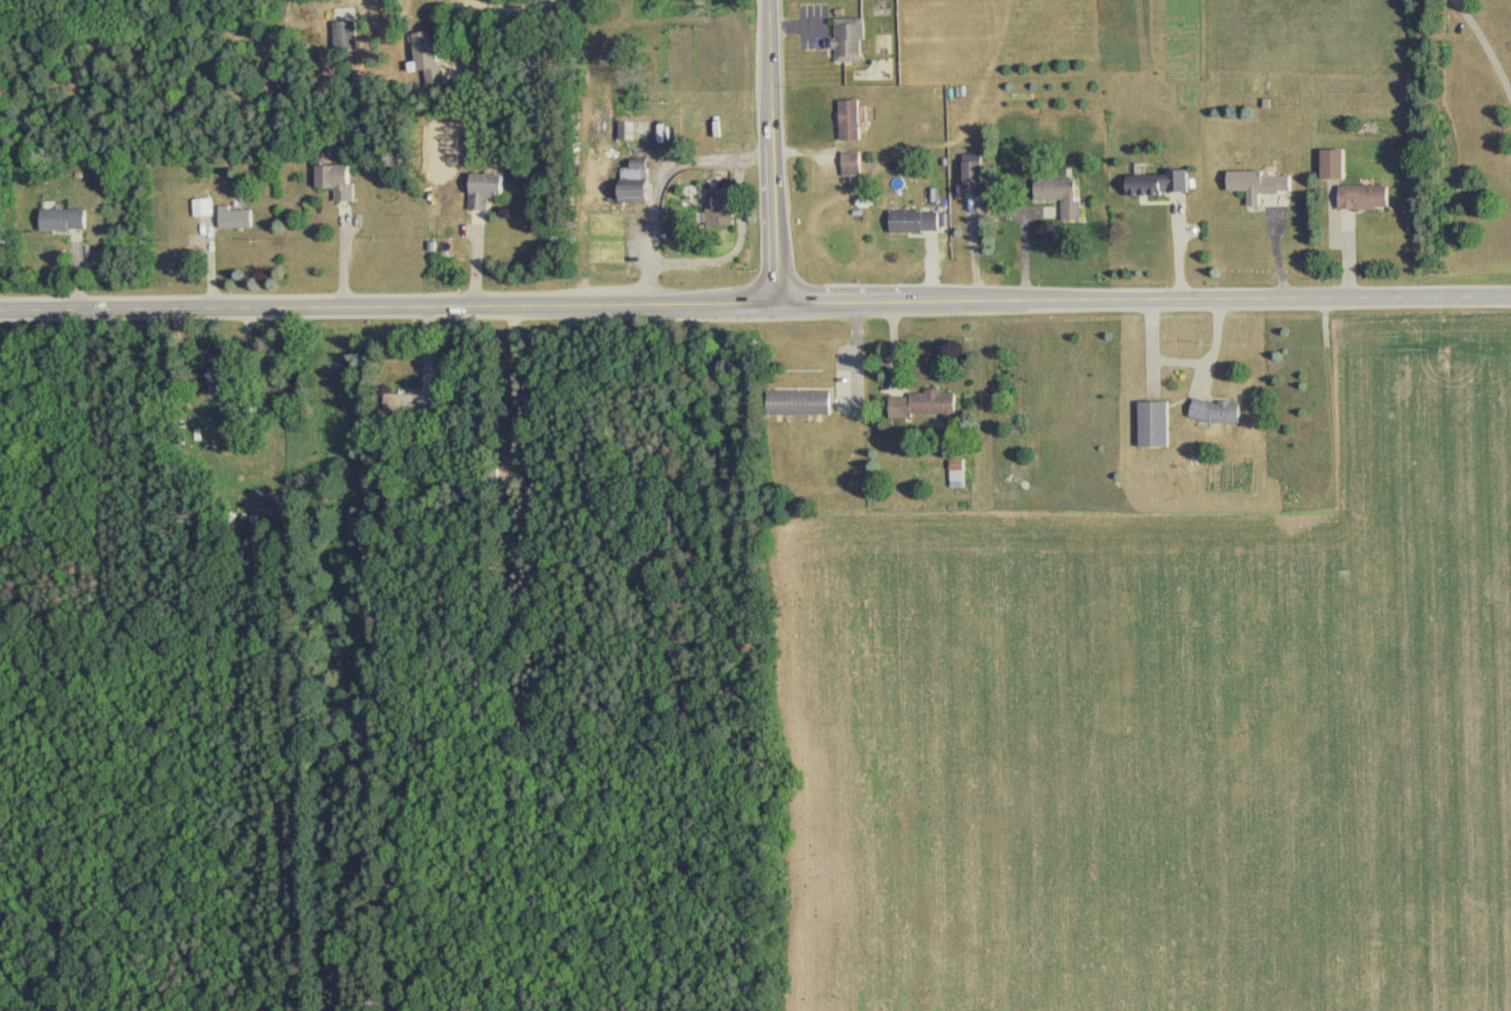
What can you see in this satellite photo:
road: (515, 5)
building: (349, 34)
building: (847, 40)
road: (1486, 49)
building: (683, 64)
building: (848, 121)
building: (693, 123)
road: (774, 152)
building: (850, 165)
building: (1330, 165)
building: (969, 179)
building: (340, 180)
building: (1155, 183)
road: (663, 185)
building: (1257, 185)
building: (490, 188)
building: (642, 194)
building: (1057, 197)
building: (1361, 198)
building: (207, 207)
building: (728, 208)
building: (238, 218)
building: (69, 219)
building: (913, 222)
road: (1023, 245)
road: (1178, 249)
road: (343, 255)
road: (755, 305)
road: (854, 357)
building: (801, 403)
building: (924, 406)
building: (1213, 412)
building: (1152, 425)
building: (956, 474)

